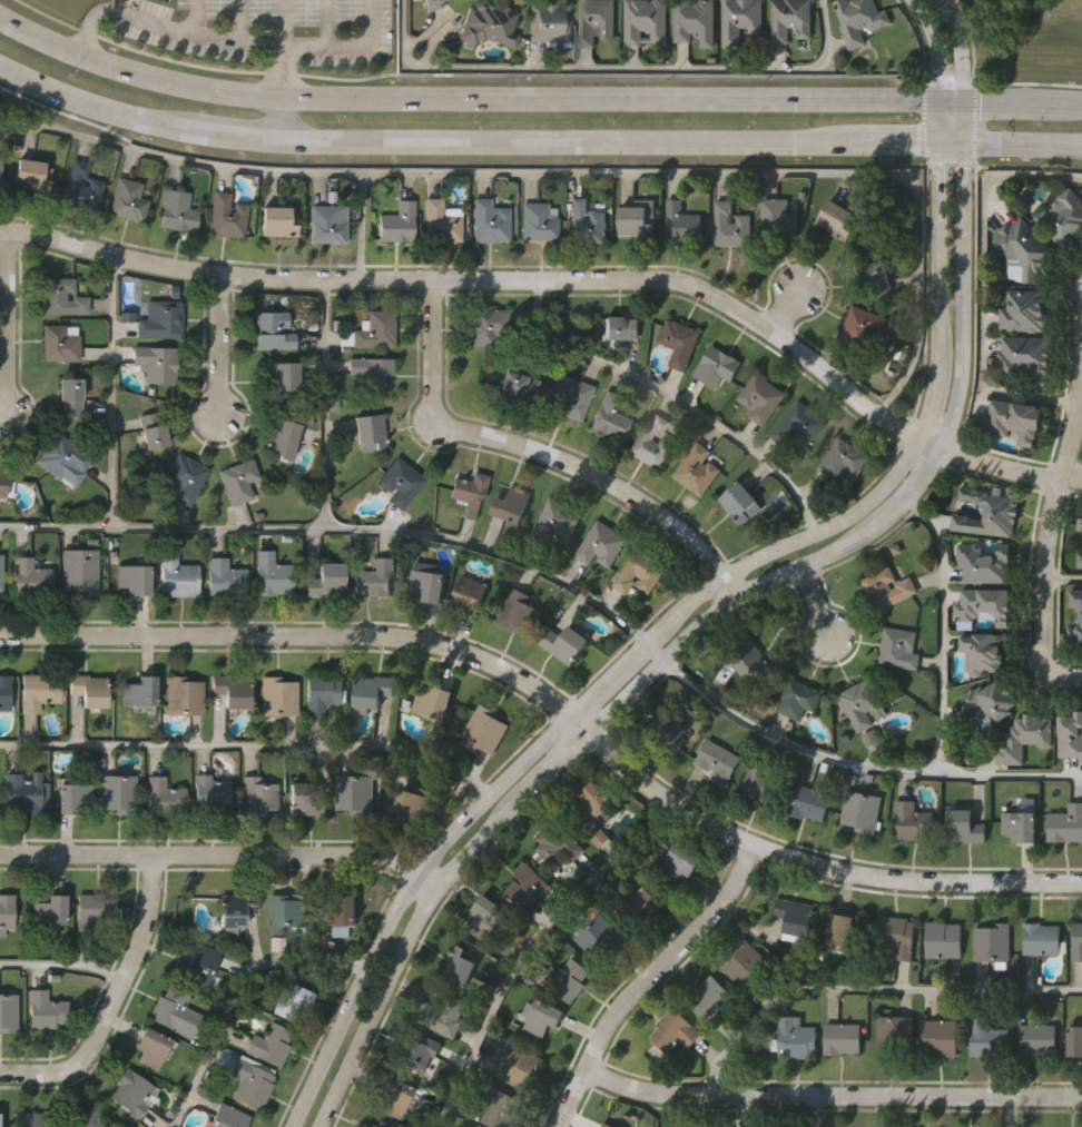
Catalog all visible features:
building: (432, 4)
road: (195, 17)
building: (740, 19)
building: (790, 19)
building: (858, 19)
building: (594, 20)
building: (645, 20)
building: (550, 21)
building: (692, 21)
road: (281, 22)
building: (488, 24)
road: (164, 27)
road: (344, 46)
road: (936, 50)
road: (957, 50)
road: (277, 71)
road: (616, 71)
road: (132, 72)
road: (91, 99)
road: (607, 99)
traffic signals: (940, 106)
road: (950, 106)
traffic signals: (961, 106)
road: (1002, 107)
road: (1063, 108)
road: (272, 117)
road: (940, 125)
road: (962, 125)
road: (228, 134)
road: (564, 141)
road: (951, 144)
traffic signals: (963, 144)
road: (899, 145)
traffic signals: (940, 145)
road: (1022, 145)
building: (0, 170)
road: (579, 175)
building: (31, 176)
building: (80, 187)
building: (127, 199)
building: (177, 210)
building: (226, 216)
building: (1064, 216)
building: (637, 218)
building: (777, 218)
building: (835, 219)
building: (275, 221)
building: (399, 221)
building: (489, 221)
building: (538, 221)
building: (442, 223)
building: (586, 223)
building: (327, 224)
building: (682, 224)
building: (734, 225)
road: (362, 226)
building: (1023, 249)
road: (482, 279)
building: (879, 279)
road: (984, 286)
building: (61, 295)
road: (785, 310)
building: (1024, 312)
building: (159, 317)
road: (7, 323)
building: (489, 324)
building: (866, 327)
building: (376, 328)
building: (274, 330)
building: (618, 330)
building: (60, 340)
building: (680, 343)
road: (220, 344)
building: (1024, 357)
building: (157, 360)
building: (718, 366)
building: (372, 369)
building: (284, 377)
building: (518, 379)
road: (112, 391)
building: (568, 395)
building: (69, 396)
building: (761, 397)
road: (669, 398)
road: (325, 404)
building: (609, 417)
building: (1015, 421)
building: (798, 426)
building: (153, 428)
building: (370, 431)
building: (284, 437)
building: (653, 442)
road: (541, 453)
building: (61, 454)
building: (842, 461)
road: (999, 465)
building: (696, 467)
building: (7, 475)
building: (185, 477)
building: (401, 480)
building: (238, 481)
building: (469, 492)
building: (740, 502)
building: (511, 504)
building: (987, 513)
building: (557, 517)
building: (1079, 522)
road: (1049, 530)
road: (335, 531)
building: (600, 543)
building: (1079, 557)
building: (984, 562)
building: (79, 569)
building: (0, 573)
building: (640, 573)
building: (28, 574)
building: (272, 574)
building: (134, 576)
building: (176, 576)
building: (224, 576)
building: (375, 577)
building: (326, 579)
road: (1063, 580)
building: (426, 584)
building: (889, 590)
building: (469, 593)
road: (817, 601)
building: (983, 604)
building: (522, 613)
building: (1081, 620)
road: (658, 627)
road: (689, 632)
road: (944, 633)
building: (563, 643)
building: (899, 647)
building: (983, 651)
building: (751, 660)
road: (1065, 675)
building: (7, 690)
building: (40, 690)
building: (89, 690)
building: (373, 690)
building: (232, 691)
building: (140, 692)
building: (279, 694)
building: (323, 694)
building: (184, 695)
building: (799, 699)
building: (992, 699)
building: (433, 702)
building: (863, 702)
road: (557, 708)
building: (482, 730)
building: (667, 731)
building: (1071, 734)
building: (1025, 738)
road: (252, 747)
building: (718, 762)
road: (844, 764)
building: (763, 782)
building: (357, 789)
building: (23, 791)
building: (119, 791)
building: (212, 793)
building: (164, 795)
building: (257, 795)
building: (71, 797)
building: (307, 799)
building: (808, 802)
building: (413, 803)
building: (591, 810)
building: (860, 810)
building: (913, 820)
building: (1022, 822)
building: (1066, 823)
building: (965, 826)
building: (557, 843)
road: (222, 856)
building: (677, 861)
building: (528, 884)
building: (637, 906)
building: (48, 909)
building: (90, 909)
building: (235, 909)
building: (346, 910)
building: (4, 911)
building: (287, 912)
building: (791, 915)
building: (484, 917)
building: (840, 931)
building: (897, 933)
building: (601, 936)
building: (945, 938)
building: (1043, 939)
building: (1076, 940)
building: (994, 943)
road: (529, 947)
building: (744, 962)
building: (197, 963)
building: (455, 963)
road: (61, 966)
building: (567, 978)
road: (645, 980)
road: (869, 989)
road: (239, 996)
building: (708, 996)
road: (111, 999)
building: (291, 1000)
building: (42, 1010)
building: (8, 1011)
building: (175, 1012)
building: (443, 1016)
building: (544, 1016)
building: (671, 1032)
building: (894, 1035)
building: (794, 1038)
building: (940, 1038)
building: (843, 1039)
building: (1035, 1039)
building: (986, 1040)
building: (1074, 1041)
building: (270, 1045)
building: (154, 1047)
building: (419, 1049)
building: (517, 1068)
building: (249, 1085)
building: (131, 1089)
building: (394, 1095)
road: (830, 1095)
building: (500, 1107)
building: (79, 1117)
building: (31, 1118)
building: (227, 1118)
building: (377, 1124)

